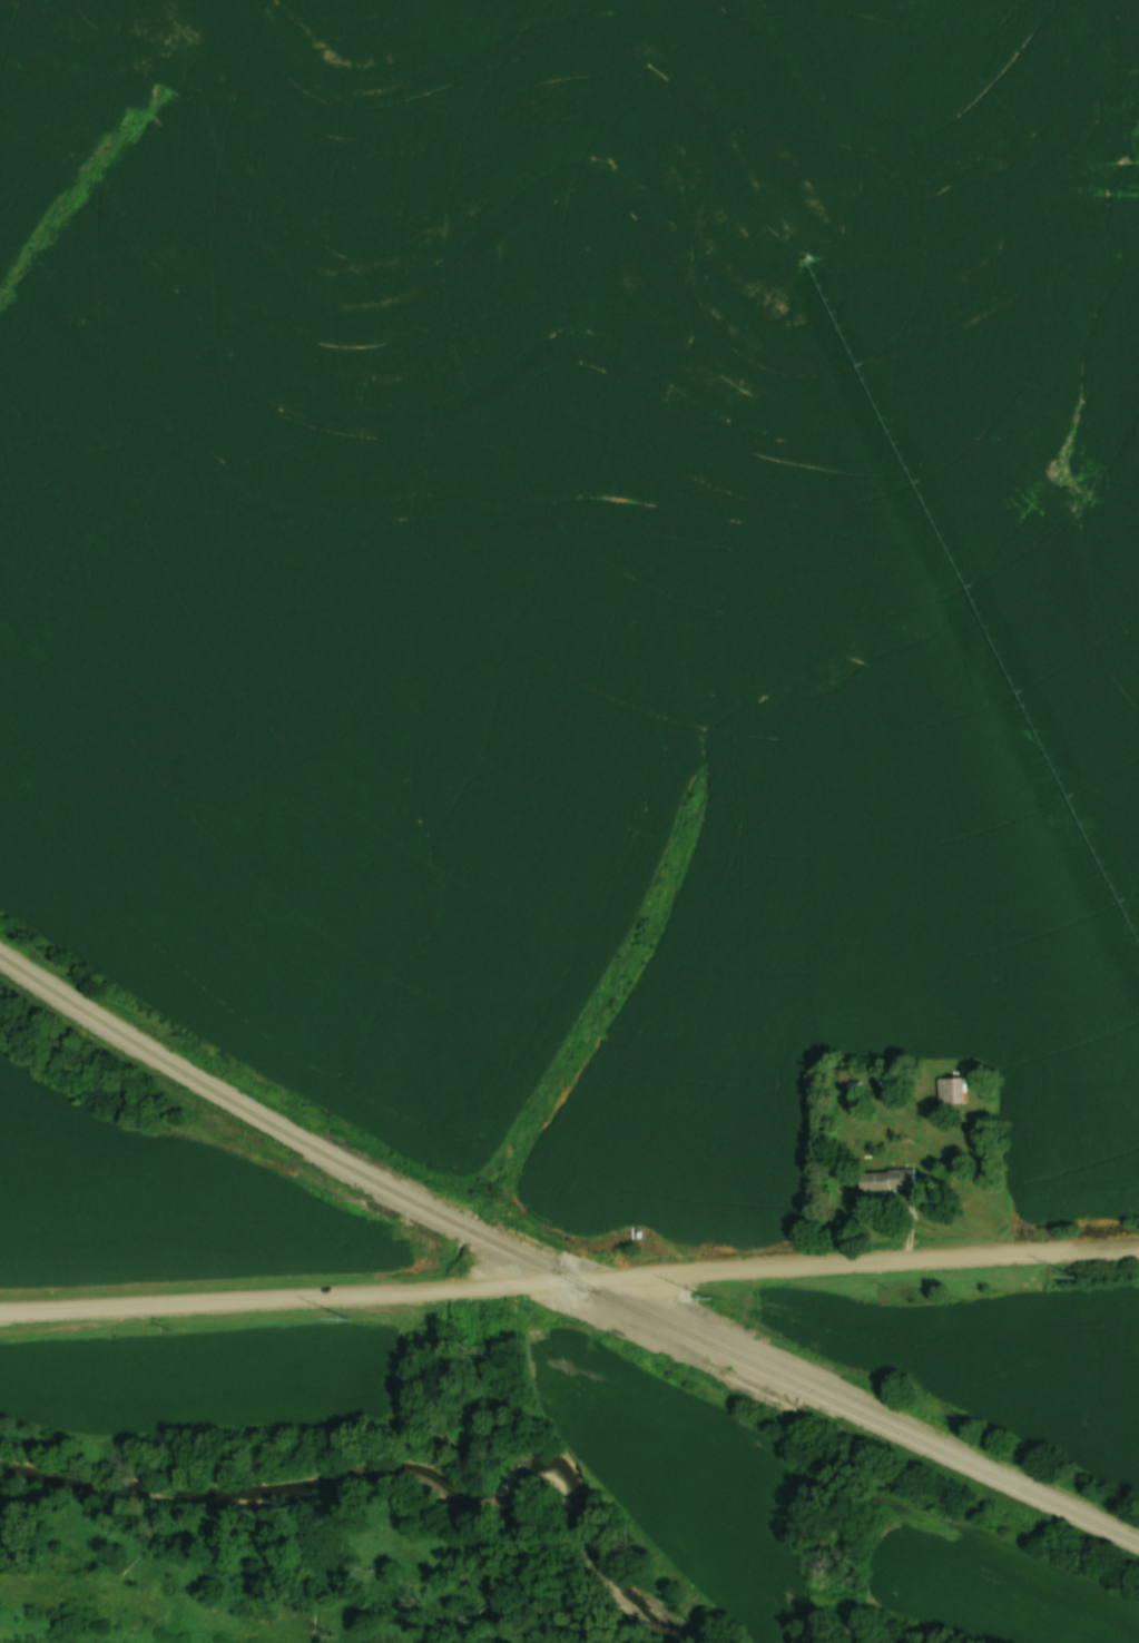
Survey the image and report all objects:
building: (955, 1090)
building: (894, 1179)
road: (916, 1192)
railway: (558, 1269)
road: (569, 1285)

